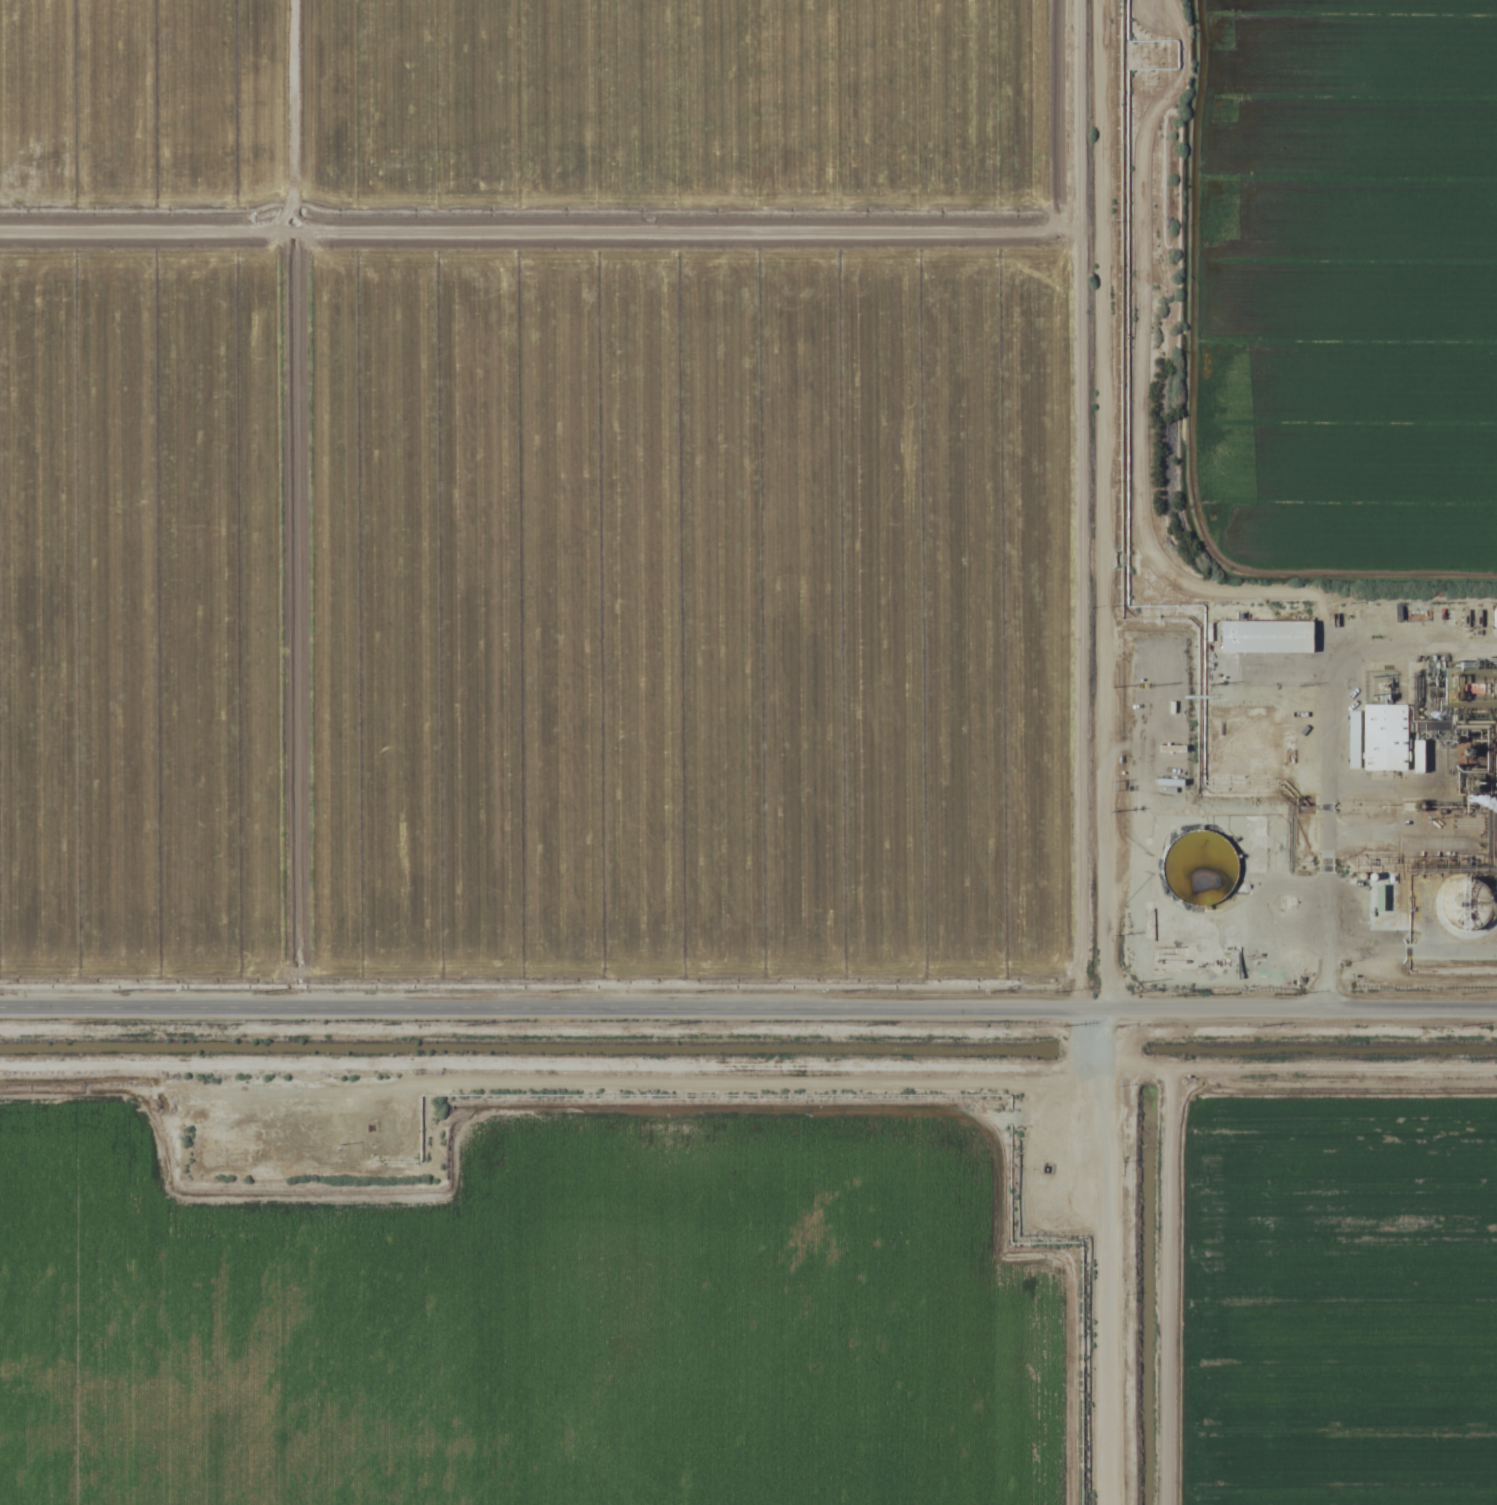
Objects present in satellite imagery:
road: (1100, 503)
building: (1270, 635)
road: (1329, 725)
building: (1387, 736)
building: (1386, 904)
road: (1410, 947)
road: (1322, 977)
road: (748, 1006)
road: (1104, 1256)

